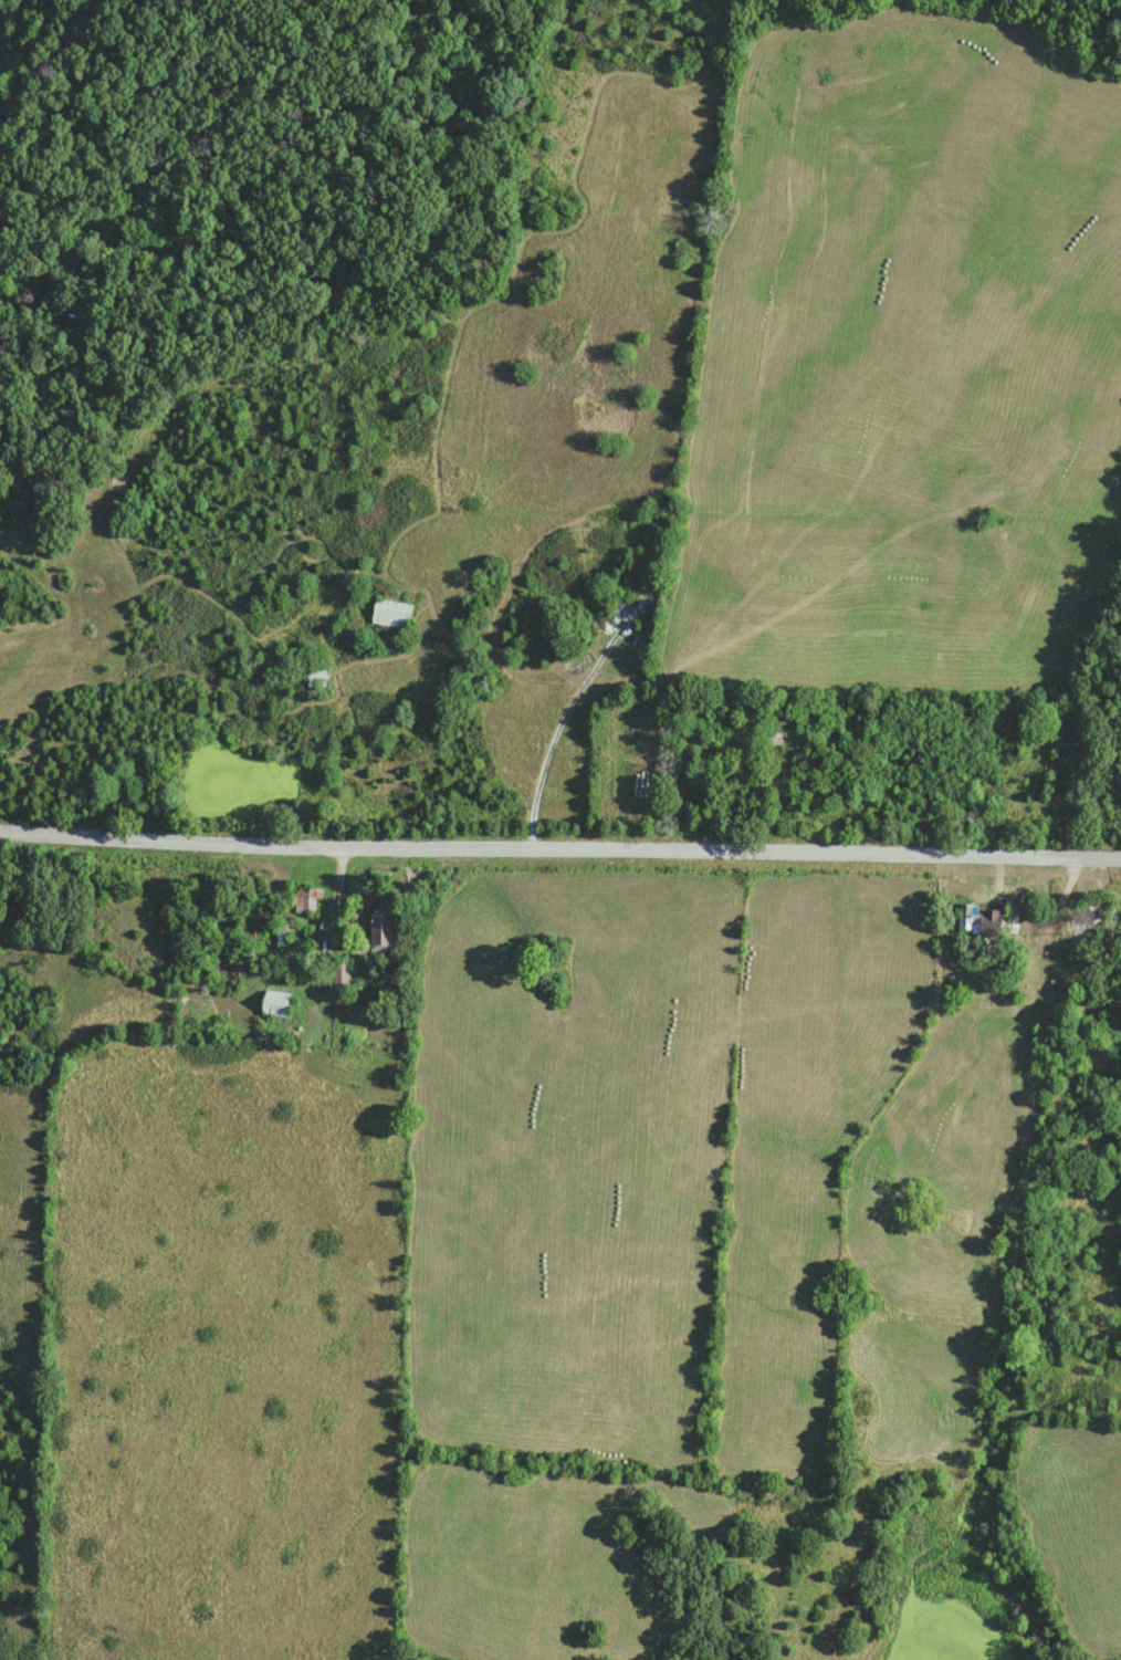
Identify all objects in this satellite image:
building: (394, 610)
road: (511, 664)
building: (318, 676)
road: (559, 845)
building: (307, 897)
road: (1072, 898)
road: (333, 902)
building: (1099, 904)
building: (986, 918)
building: (383, 927)
building: (1101, 937)
building: (343, 972)
building: (276, 1001)

